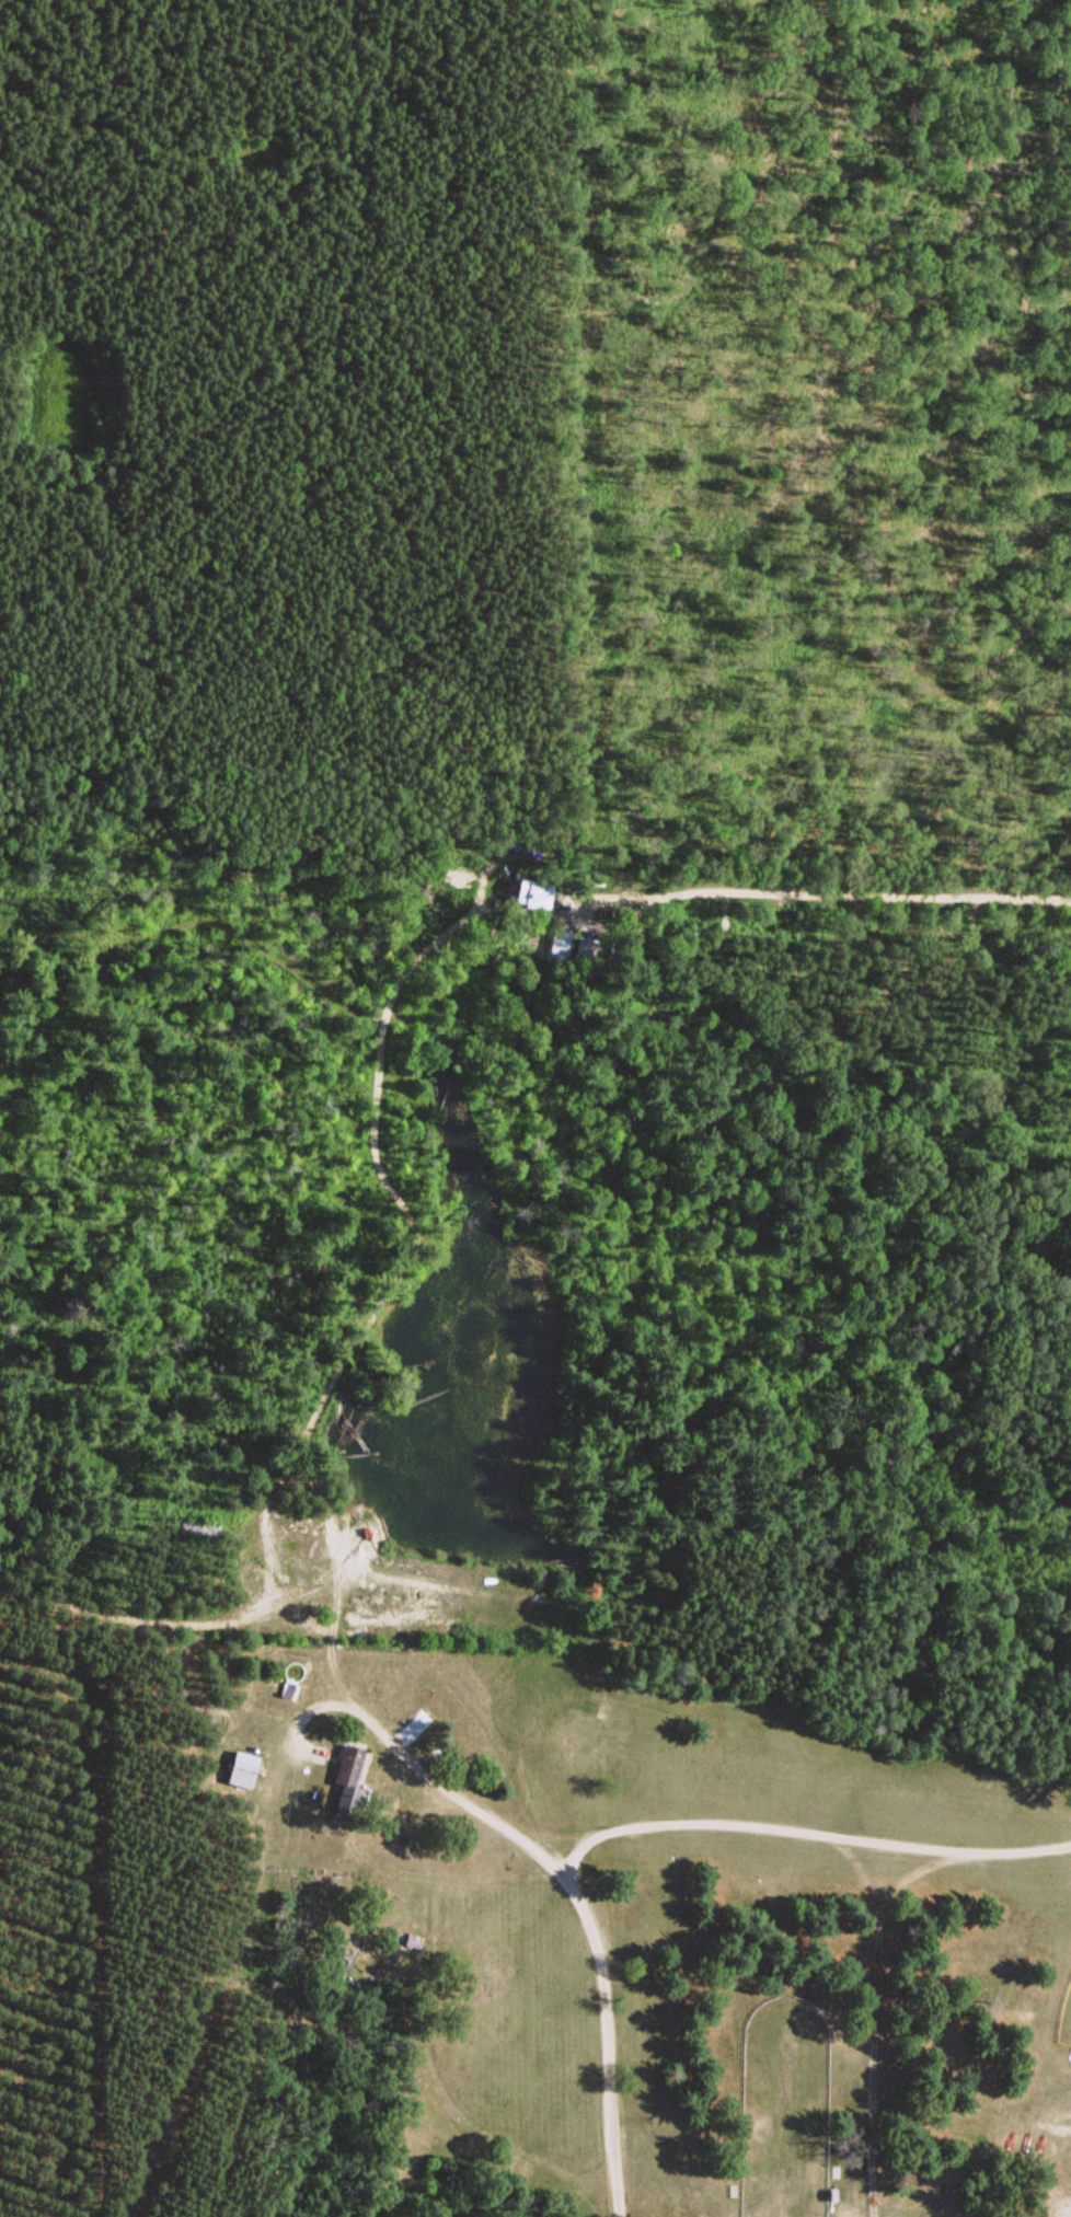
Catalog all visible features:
building: (532, 889)
road: (815, 889)
building: (561, 946)
building: (590, 949)
road: (313, 977)
road: (378, 1157)
road: (266, 1513)
building: (421, 1719)
building: (241, 1767)
building: (349, 1780)
road: (807, 1828)
road: (543, 1829)
road: (557, 1864)
road: (907, 1873)
park: (640, 2000)
park: (1064, 2013)
road: (875, 2017)

